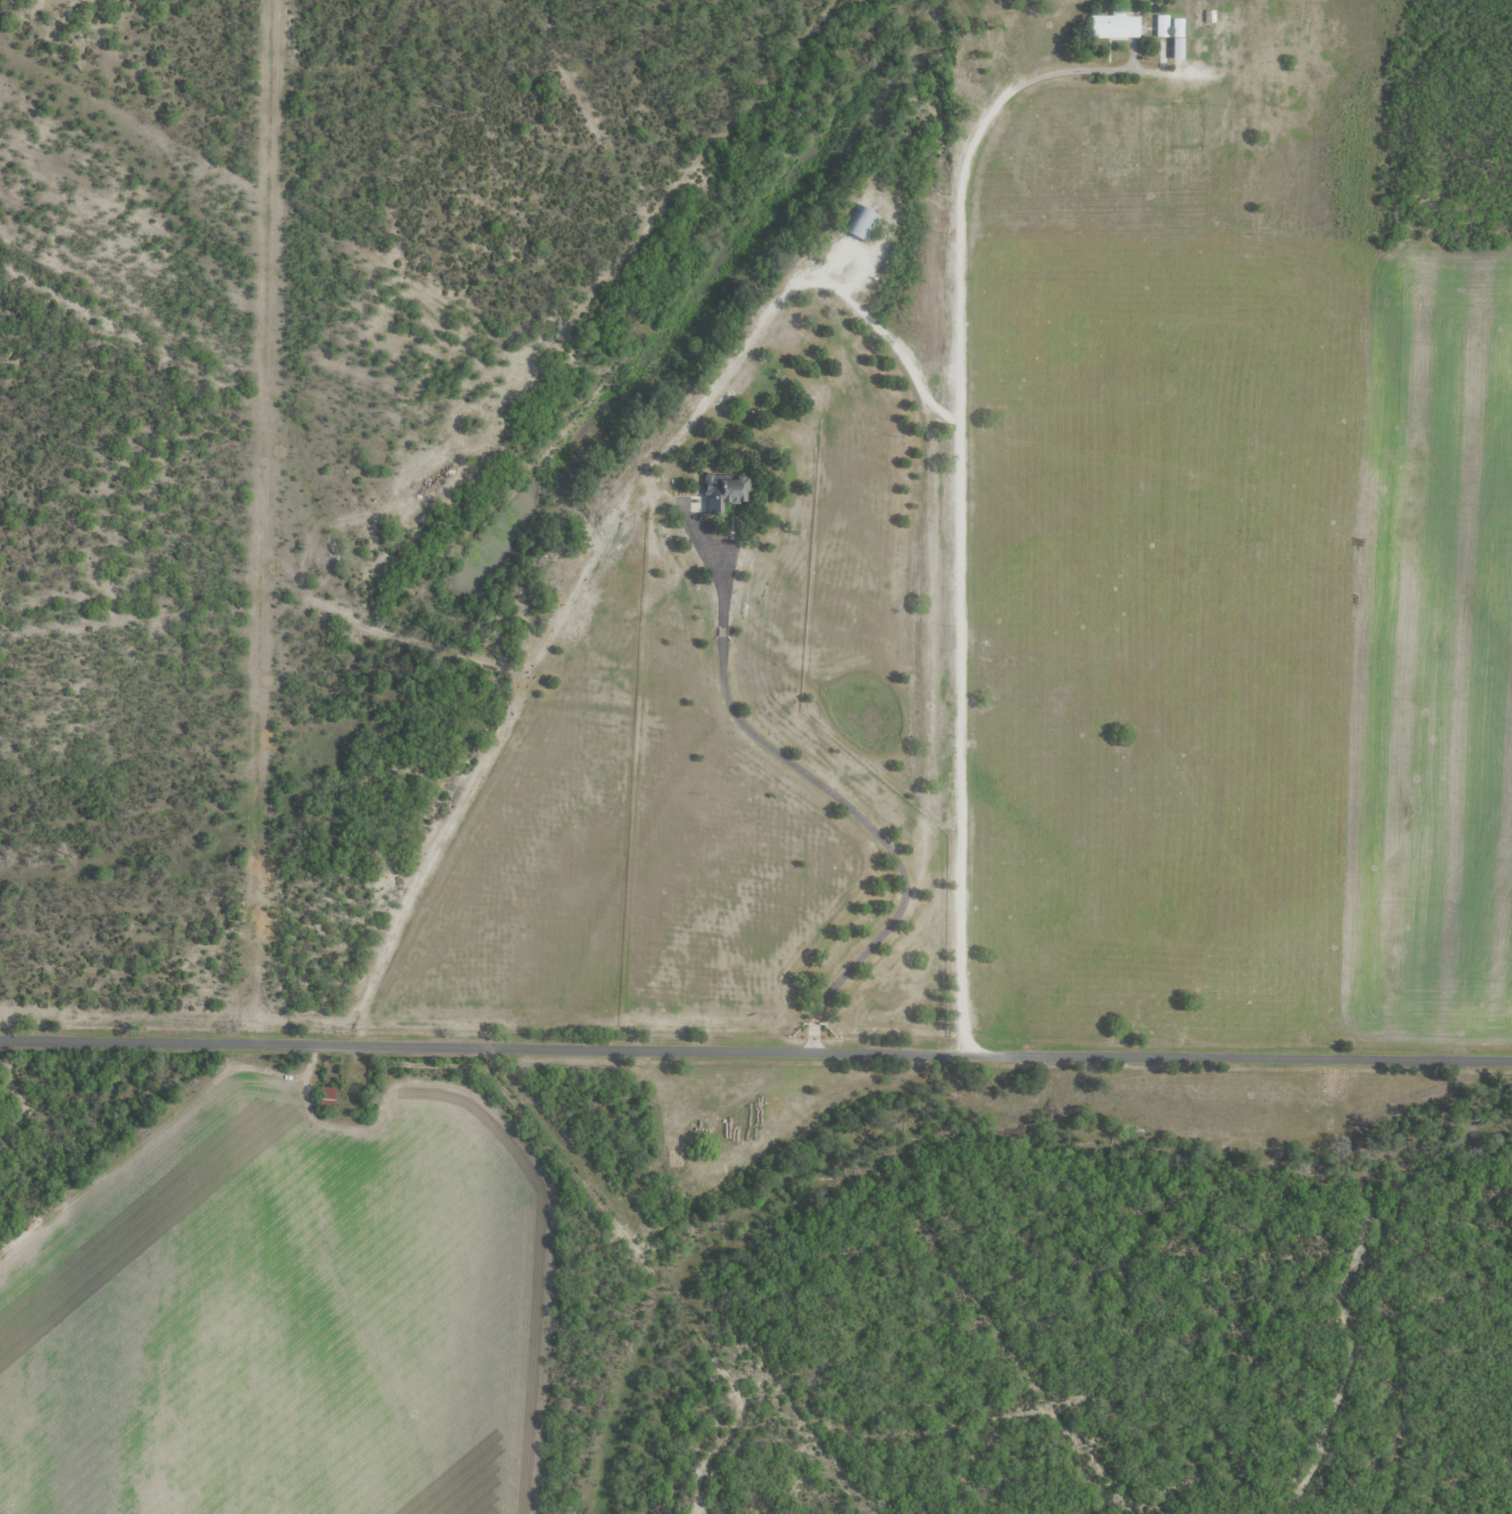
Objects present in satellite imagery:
building: (1112, 27)
building: (1160, 27)
building: (1175, 39)
building: (1195, 50)
building: (859, 225)
road: (965, 487)
building: (720, 491)
road: (755, 1051)
building: (323, 1096)

